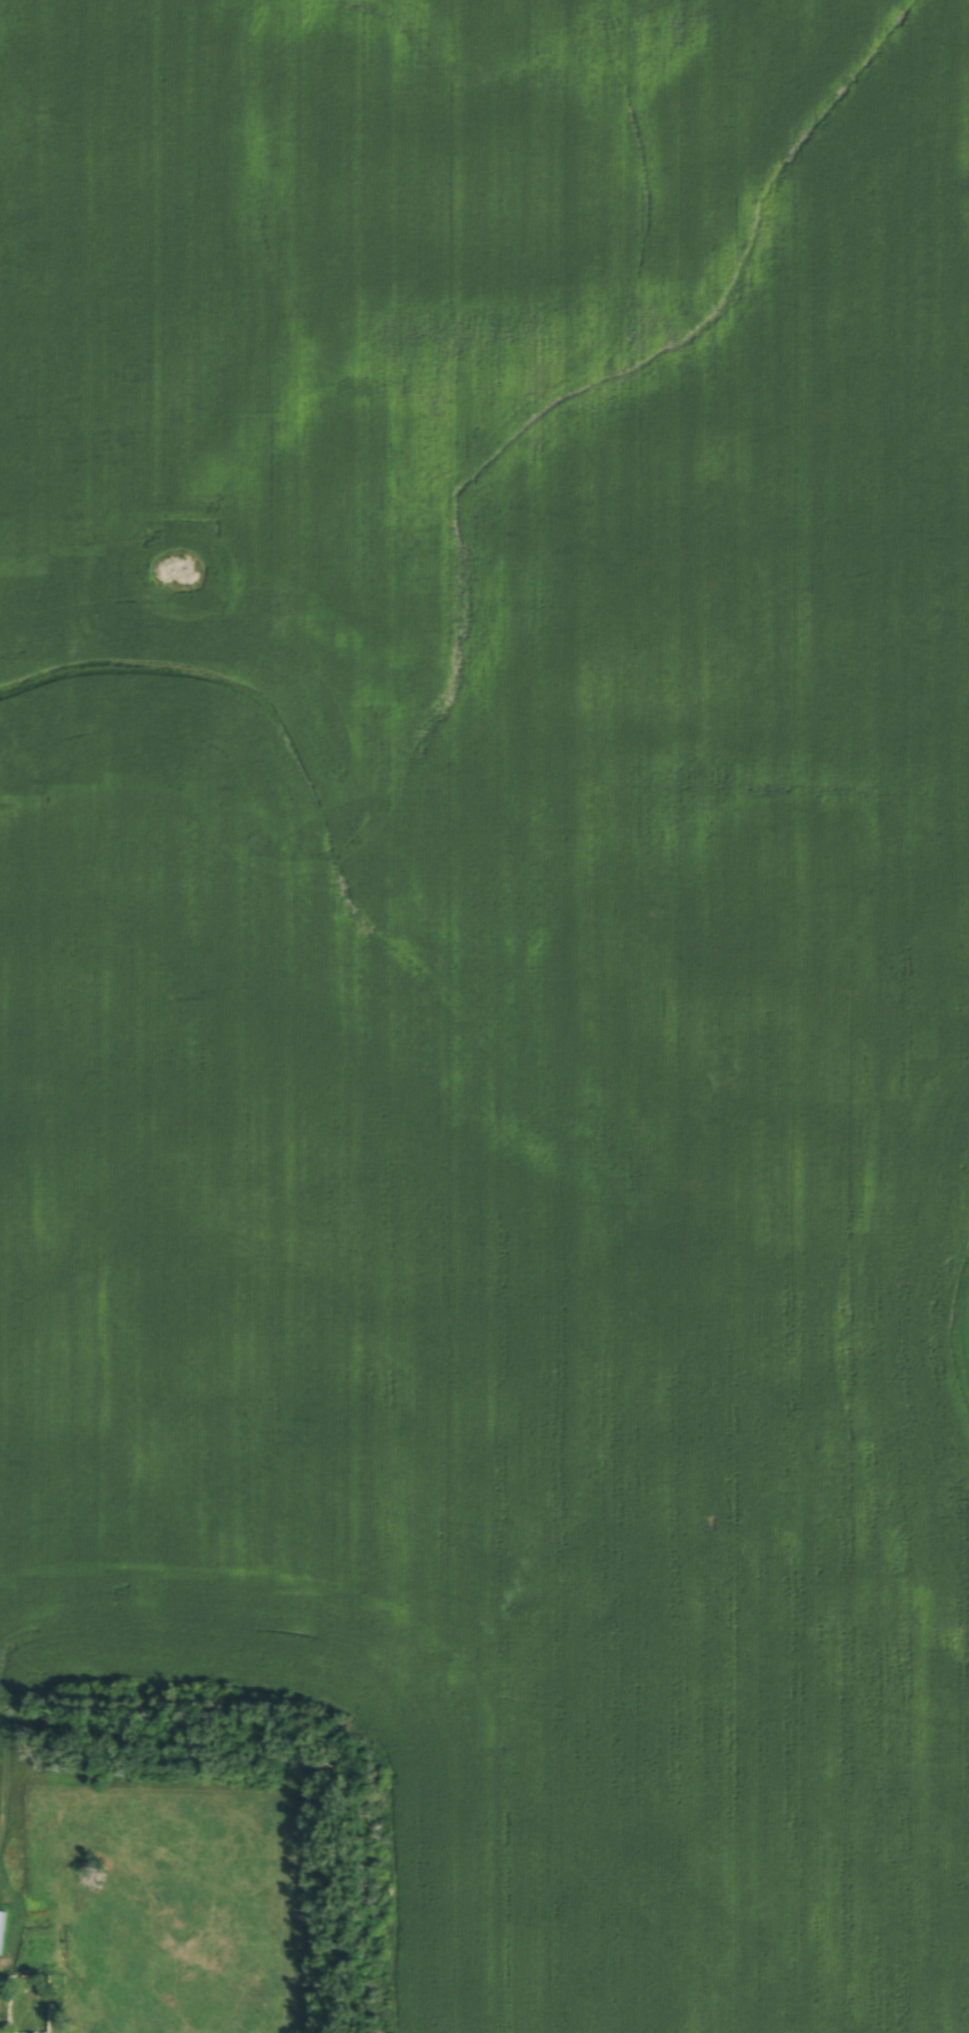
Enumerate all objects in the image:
building: (1, 1928)

